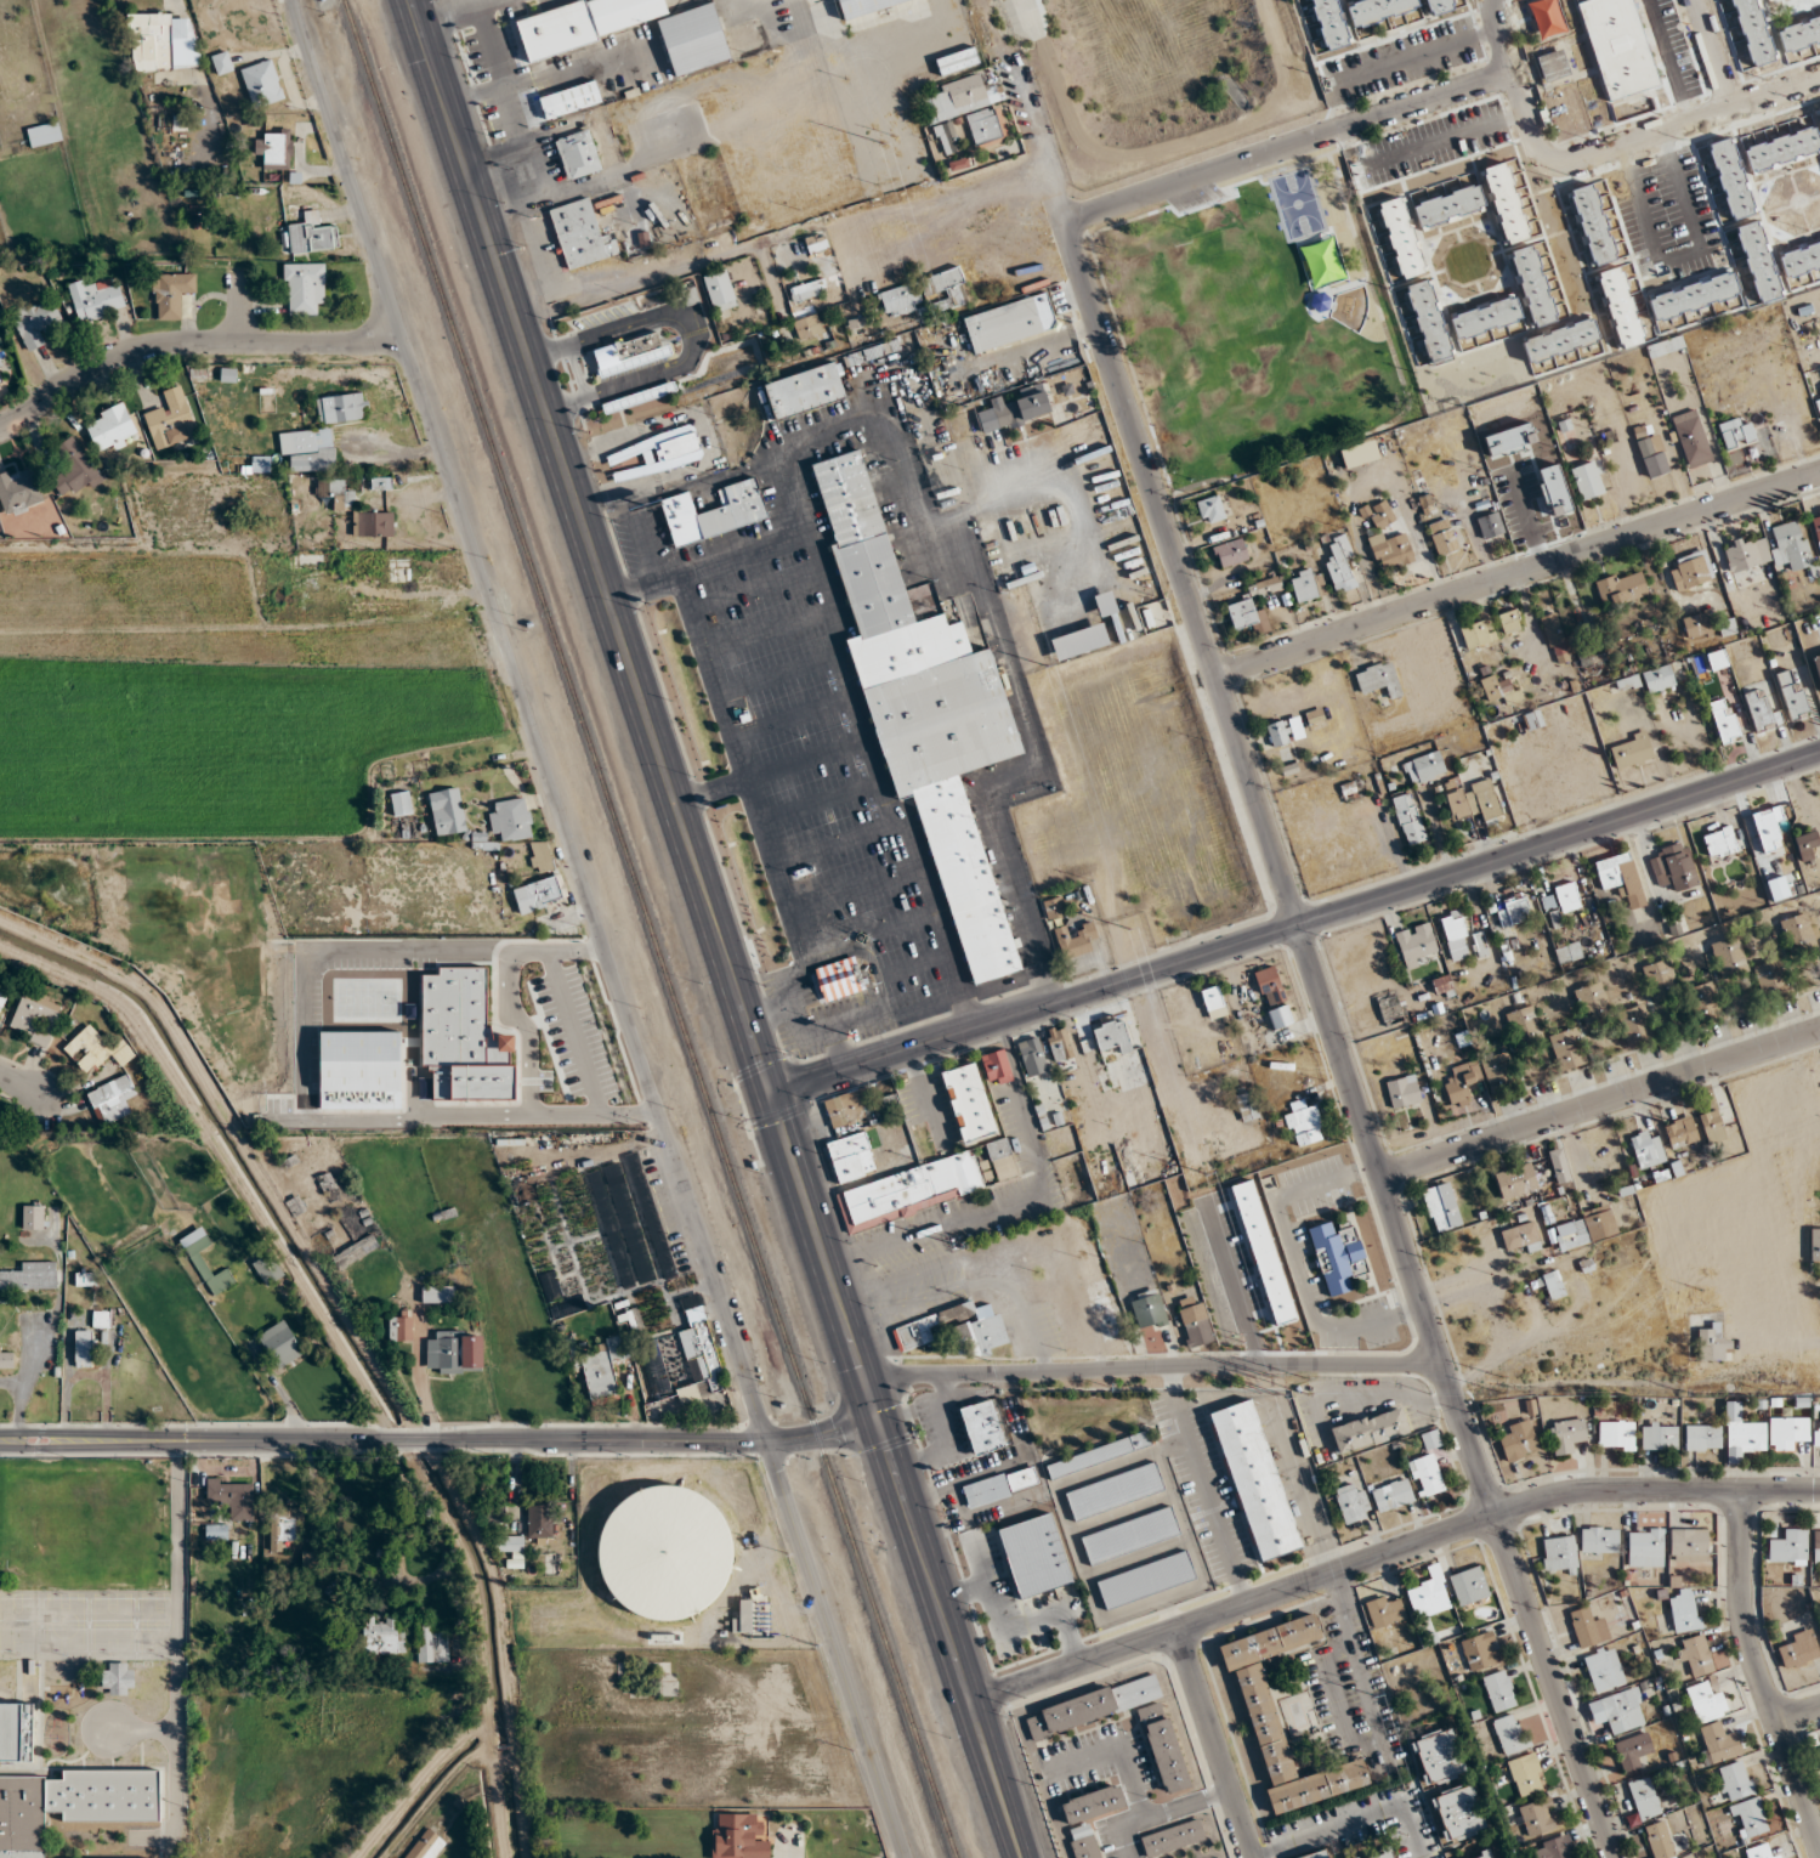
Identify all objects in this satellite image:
building: (1767, 0)
building: (866, 6)
building: (1438, 6)
building: (1378, 10)
building: (1329, 23)
building: (572, 27)
building: (1753, 30)
building: (1799, 33)
building: (694, 39)
building: (161, 41)
road: (478, 45)
building: (1618, 46)
road: (1717, 53)
building: (957, 61)
building: (222, 63)
building: (1552, 66)
building: (262, 84)
road: (1776, 94)
building: (569, 98)
building: (954, 108)
building: (1818, 112)
building: (986, 128)
building: (44, 134)
road: (512, 140)
road: (1287, 147)
building: (274, 148)
building: (1781, 149)
building: (578, 154)
road: (1559, 163)
road: (526, 166)
building: (1731, 179)
building: (1506, 203)
road: (508, 206)
building: (1448, 206)
building: (1594, 226)
building: (312, 234)
building: (579, 234)
road: (778, 236)
building: (1401, 238)
building: (816, 243)
road: (784, 251)
building: (1799, 259)
building: (1759, 261)
road: (535, 262)
building: (1532, 285)
building: (304, 288)
building: (948, 288)
building: (807, 289)
building: (720, 290)
building: (171, 294)
building: (1693, 296)
building: (95, 300)
building: (901, 300)
road: (240, 307)
building: (1621, 307)
building: (603, 315)
building: (1485, 318)
building: (1009, 321)
building: (35, 322)
building: (806, 322)
park: (1252, 322)
building: (1429, 323)
building: (1560, 340)
road: (189, 341)
road: (1037, 344)
building: (1665, 346)
building: (881, 349)
building: (630, 352)
building: (1, 363)
building: (0, 379)
building: (805, 390)
building: (639, 397)
building: (1818, 407)
building: (342, 408)
building: (1016, 408)
building: (170, 419)
building: (113, 427)
building: (1736, 434)
building: (1691, 438)
building: (311, 449)
building: (654, 454)
building: (1652, 455)
building: (261, 464)
building: (74, 468)
building: (1587, 481)
building: (939, 483)
road: (1047, 488)
building: (18, 491)
building: (1212, 509)
building: (357, 510)
building: (713, 512)
building: (1380, 515)
building: (1816, 523)
building: (1490, 526)
building: (1441, 537)
building: (1790, 545)
road: (590, 546)
building: (1390, 550)
building: (1231, 553)
building: (1741, 555)
building: (1339, 562)
road: (742, 563)
building: (1690, 571)
road: (1518, 573)
building: (1303, 585)
building: (1266, 587)
building: (1621, 588)
building: (1106, 604)
building: (1248, 616)
building: (1510, 622)
building: (1697, 625)
building: (1475, 634)
building: (1554, 638)
building: (1079, 641)
road: (835, 644)
building: (1717, 659)
building: (1661, 678)
building: (1379, 679)
building: (1628, 682)
building: (1499, 689)
building: (1792, 696)
building: (1762, 712)
building: (923, 713)
building: (1315, 719)
building: (1724, 721)
building: (1295, 727)
building: (1277, 733)
road: (733, 738)
road: (1036, 744)
building: (1631, 752)
building: (1425, 767)
road: (711, 791)
building: (1474, 801)
building: (401, 803)
building: (447, 811)
building: (1408, 818)
building: (510, 820)
building: (1768, 828)
building: (1720, 843)
building: (1808, 844)
building: (542, 856)
building: (1679, 866)
building: (1620, 877)
building: (539, 894)
building: (1567, 897)
building: (1054, 907)
building: (1513, 912)
road: (1298, 923)
road: (597, 929)
railway: (650, 929)
road: (1298, 929)
building: (1455, 929)
building: (1798, 933)
building: (1076, 940)
building: (1417, 945)
building: (1569, 951)
building: (1729, 955)
road: (1030, 959)
building: (1660, 979)
building: (1770, 979)
building: (835, 980)
road: (998, 986)
building: (1269, 986)
road: (1038, 990)
building: (2, 997)
building: (1212, 999)
building: (1591, 999)
building: (1701, 1003)
road: (770, 1010)
road: (965, 1010)
building: (1280, 1016)
building: (35, 1018)
building: (1523, 1021)
building: (1634, 1024)
road: (810, 1032)
building: (1112, 1036)
road: (579, 1038)
building: (1059, 1044)
road: (839, 1048)
building: (96, 1049)
building: (1566, 1049)
building: (1033, 1057)
building: (997, 1067)
building: (1497, 1069)
road: (19, 1081)
building: (1462, 1083)
building: (1404, 1092)
traffic signals: (775, 1093)
building: (112, 1099)
road: (1599, 1101)
building: (969, 1103)
building: (885, 1105)
building: (1247, 1106)
building: (847, 1108)
building: (1304, 1125)
building: (1713, 1126)
building: (1682, 1132)
building: (1646, 1150)
building: (851, 1157)
building: (1000, 1159)
road: (227, 1160)
building: (1560, 1167)
building: (325, 1182)
building: (1516, 1182)
building: (909, 1191)
building: (1441, 1207)
building: (33, 1216)
building: (1591, 1227)
building: (1520, 1236)
building: (1815, 1245)
building: (357, 1250)
building: (1338, 1257)
building: (197, 1259)
building: (267, 1269)
building: (32, 1278)
building: (550, 1286)
road: (1478, 1288)
building: (440, 1295)
building: (567, 1307)
building: (1147, 1309)
building: (1106, 1318)
building: (101, 1319)
building: (1195, 1322)
road: (47, 1329)
building: (399, 1329)
road: (356, 1332)
building: (915, 1332)
building: (979, 1332)
building: (279, 1344)
building: (1711, 1344)
building: (83, 1348)
building: (701, 1349)
building: (454, 1353)
building: (6, 1358)
building: (606, 1360)
building: (653, 1369)
road: (1153, 1370)
traffic signals: (868, 1386)
road: (872, 1398)
traffic signals: (880, 1426)
building: (982, 1427)
building: (1368, 1431)
building: (1786, 1432)
building: (1741, 1434)
building: (1566, 1435)
building: (1616, 1435)
building: (1659, 1437)
building: (1816, 1437)
building: (1702, 1438)
road: (441, 1439)
building: (1519, 1440)
building: (1099, 1455)
building: (1425, 1475)
building: (1255, 1480)
building: (999, 1485)
building: (1113, 1491)
building: (1391, 1495)
building: (232, 1497)
building: (1353, 1502)
building: (540, 1522)
building: (285, 1526)
building: (216, 1533)
building: (1129, 1535)
building: (1599, 1539)
building: (1689, 1545)
building: (1816, 1546)
building: (1645, 1547)
building: (1788, 1548)
building: (511, 1550)
road: (1388, 1553)
building: (669, 1554)
building: (1034, 1554)
building: (1559, 1556)
building: (1145, 1580)
building: (1469, 1586)
building: (1429, 1594)
building: (1685, 1610)
building: (1383, 1611)
building: (743, 1618)
road: (1010, 1628)
building: (1588, 1628)
building: (382, 1636)
road: (476, 1638)
building: (430, 1642)
road: (180, 1649)
building: (1798, 1649)
building: (1480, 1652)
building: (1695, 1656)
road: (1360, 1669)
building: (1600, 1670)
road: (1759, 1671)
building: (118, 1678)
building: (1499, 1690)
building: (1706, 1703)
building: (1093, 1706)
building: (1617, 1710)
road: (1798, 1713)
building: (1263, 1715)
building: (10, 1732)
building: (1510, 1734)
road: (1212, 1743)
building: (1720, 1743)
building: (1163, 1746)
building: (1633, 1751)
building: (1819, 1751)
building: (1436, 1756)
building: (1526, 1774)
road: (996, 1780)
building: (1734, 1781)
road: (414, 1783)
road: (438, 1789)
building: (1644, 1798)
building: (72, 1803)
building: (1457, 1813)
building: (1088, 1818)
building: (1538, 1818)
building: (1750, 1818)
road: (1356, 1825)
building: (737, 1836)
building: (1172, 1839)
building: (1660, 1840)
building: (425, 1845)
building: (1554, 1848)
building: (1761, 1852)
building: (1317, 1854)
building: (1378, 1854)
building: (1479, 1854)

